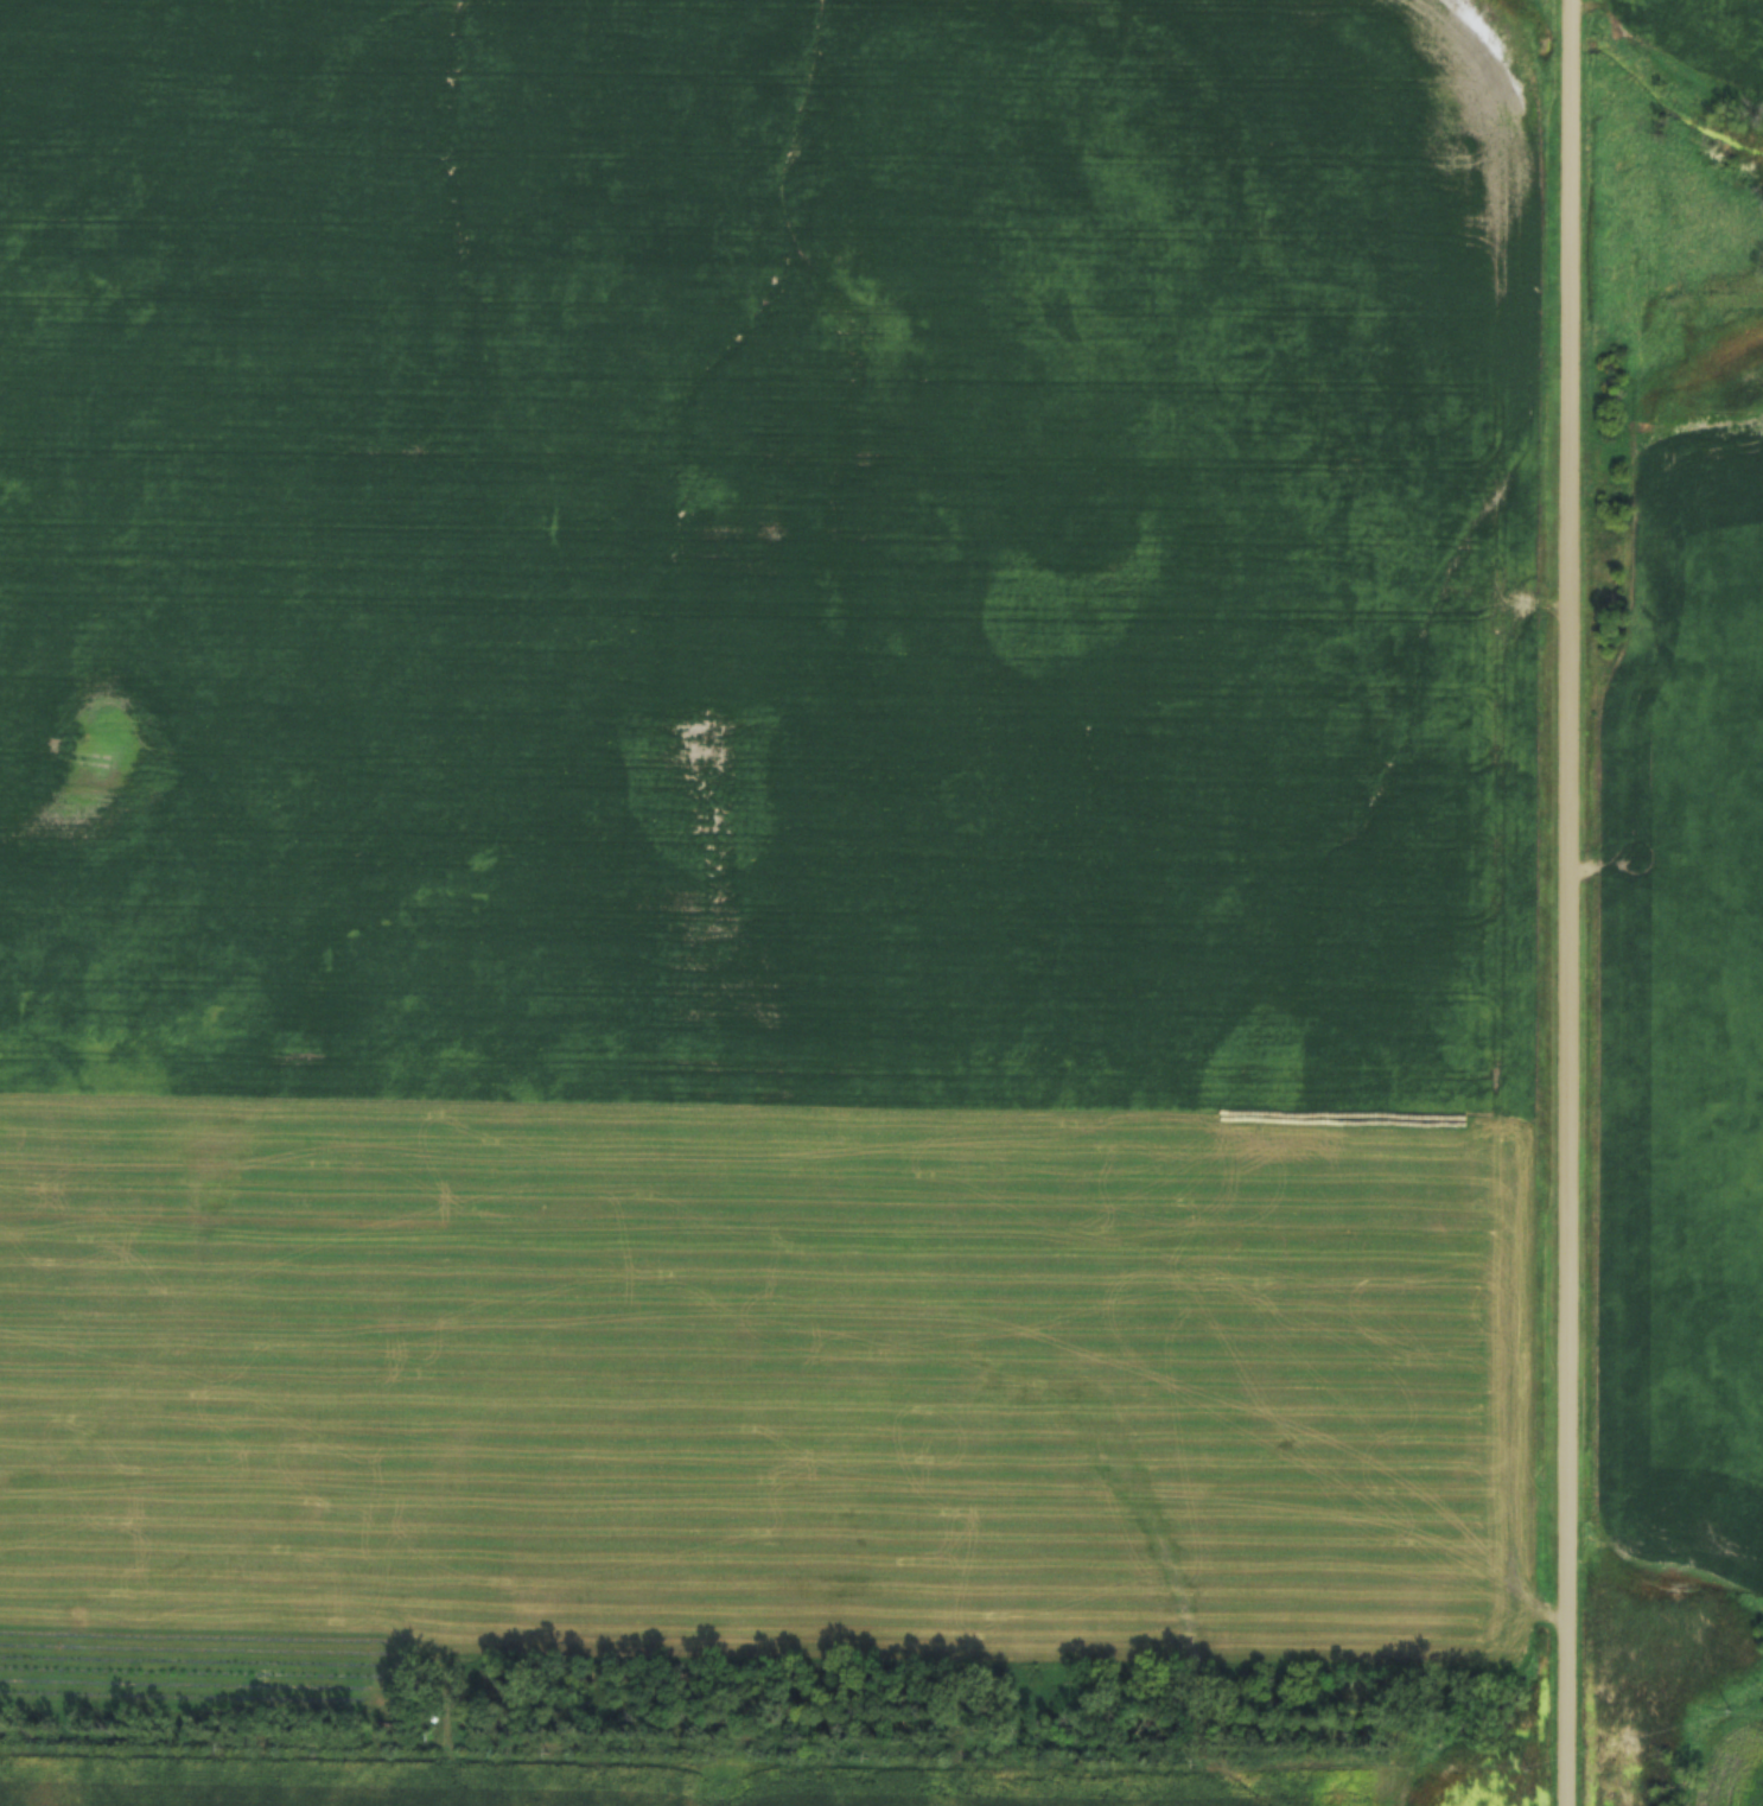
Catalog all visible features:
road: (1573, 903)

